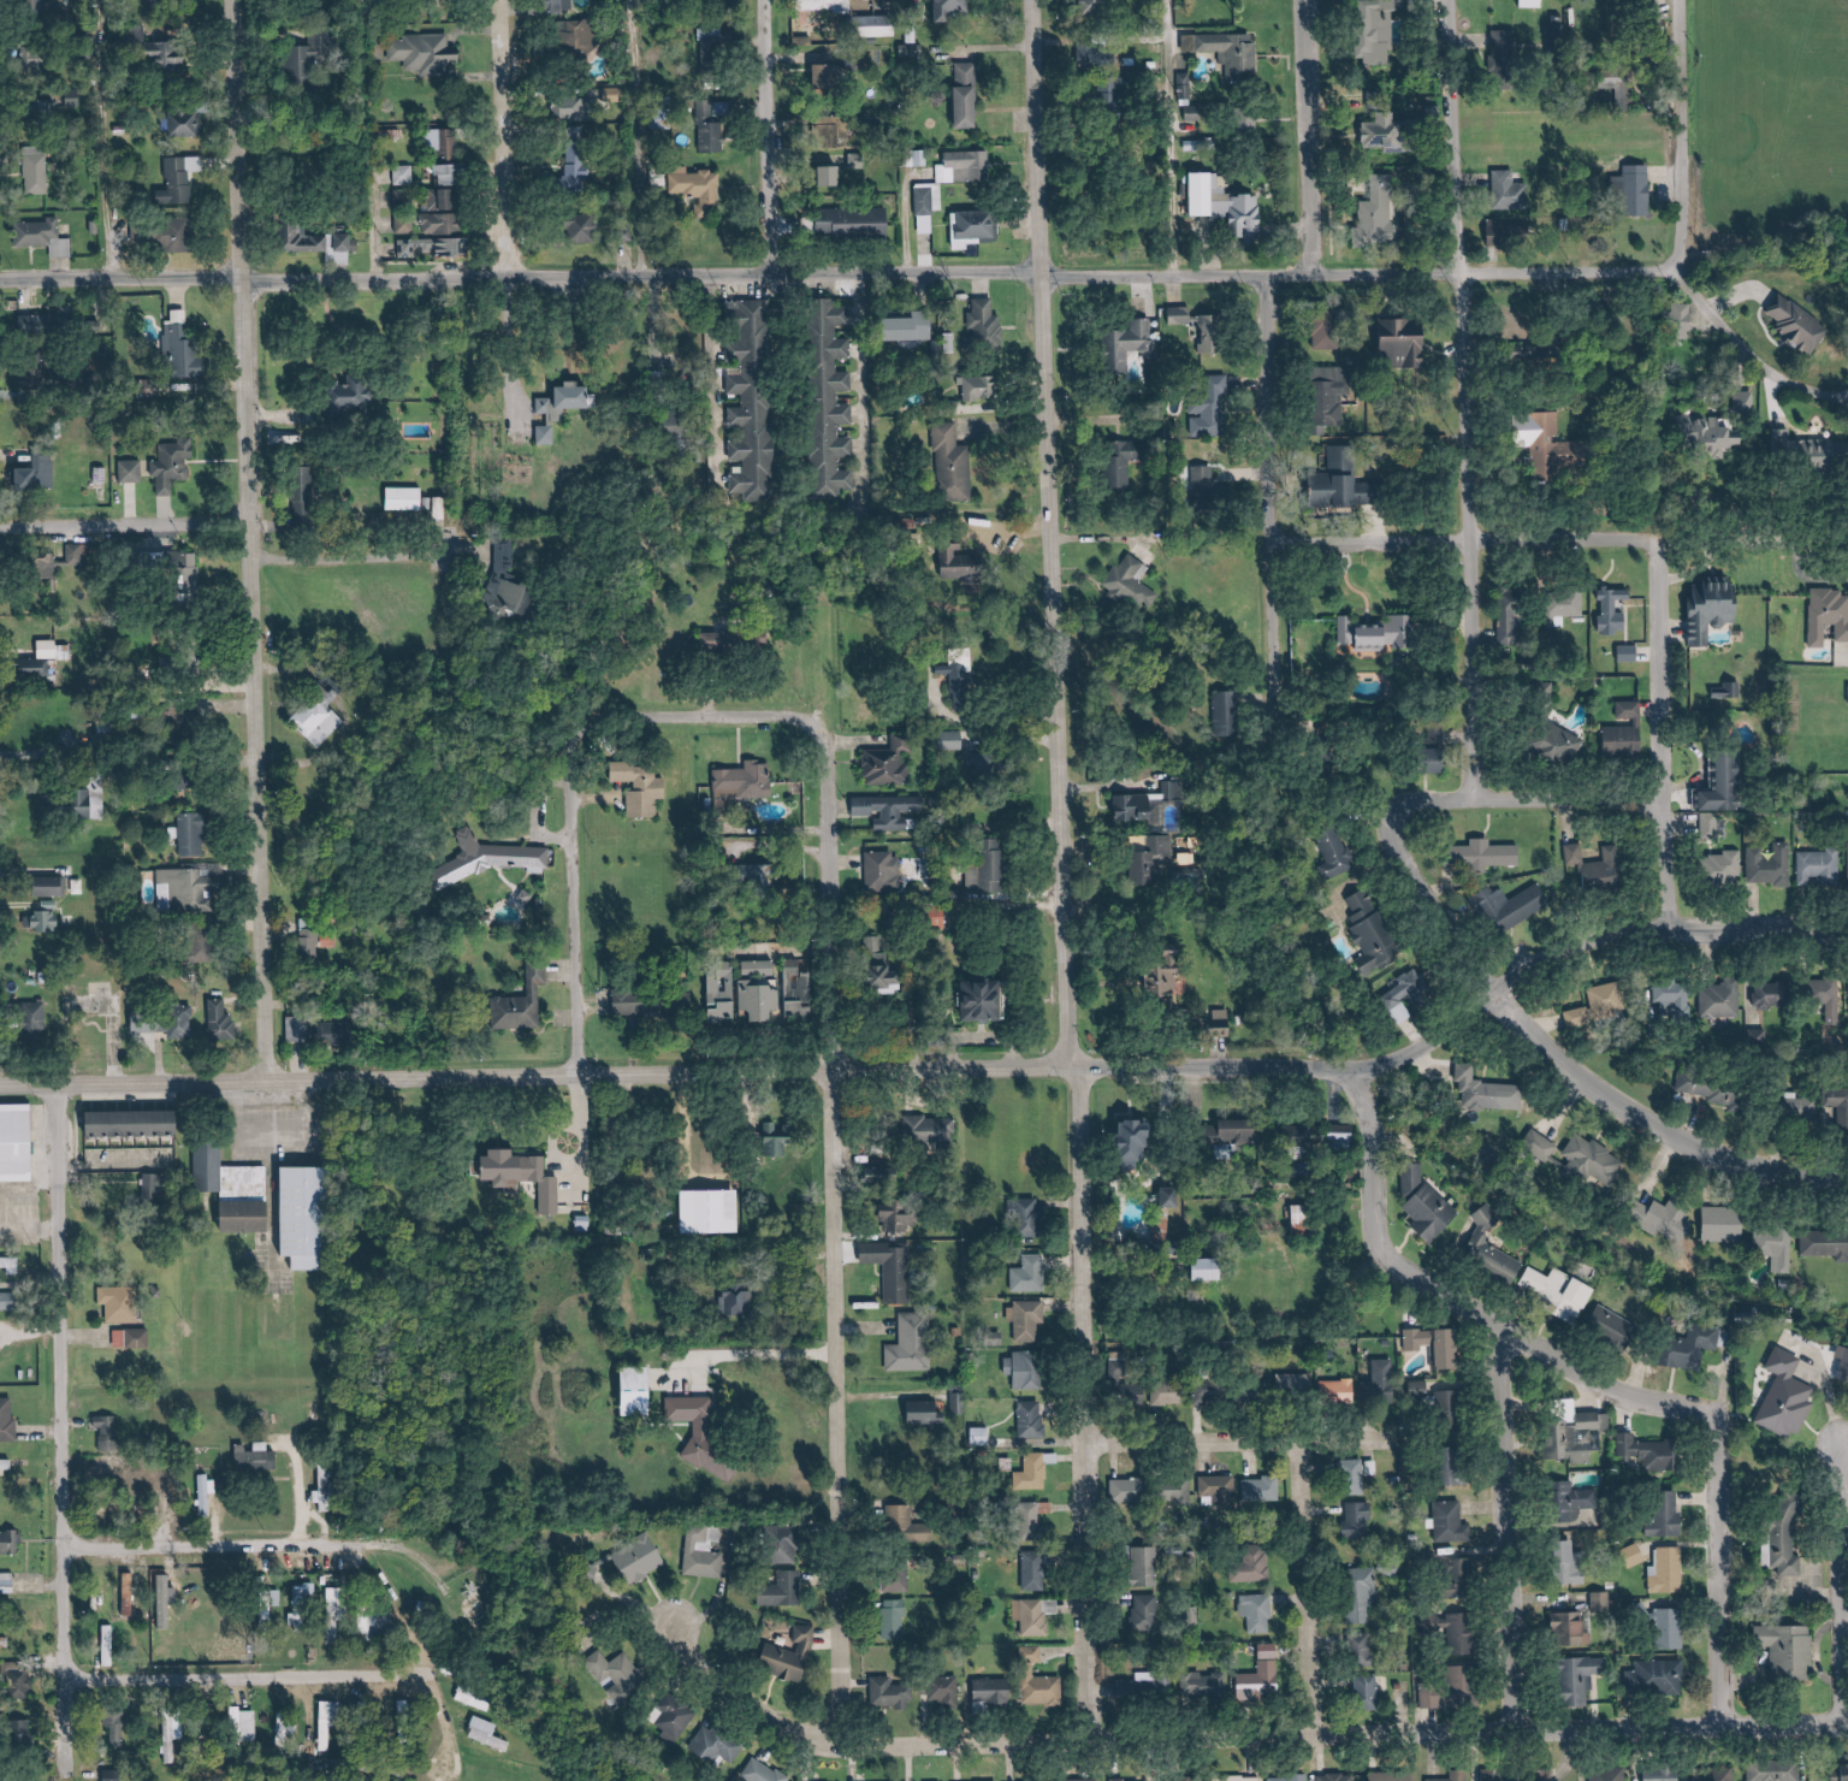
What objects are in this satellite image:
building: (164, 1)
building: (1528, 4)
building: (831, 5)
building: (42, 6)
building: (555, 6)
building: (1097, 7)
building: (962, 8)
road: (630, 20)
building: (807, 29)
building: (586, 37)
building: (1556, 39)
building: (713, 46)
building: (914, 49)
building: (1230, 51)
building: (1096, 52)
building: (427, 53)
building: (171, 55)
building: (35, 58)
building: (312, 58)
building: (1503, 60)
building: (833, 77)
building: (1186, 85)
building: (1616, 89)
building: (971, 95)
building: (76, 99)
building: (47, 110)
building: (663, 122)
building: (188, 124)
building: (835, 125)
building: (716, 126)
building: (1388, 132)
road: (768, 137)
road: (1307, 137)
road: (1453, 137)
road: (100, 138)
road: (500, 138)
road: (1675, 141)
building: (445, 143)
building: (858, 161)
building: (580, 166)
building: (967, 167)
building: (38, 170)
building: (456, 174)
building: (404, 176)
building: (836, 176)
building: (180, 181)
building: (700, 190)
building: (1508, 191)
road: (644, 194)
building: (403, 199)
building: (929, 206)
building: (1231, 207)
road: (367, 215)
building: (857, 223)
building: (405, 224)
building: (445, 224)
building: (977, 227)
building: (587, 229)
building: (164, 235)
building: (1505, 236)
building: (46, 237)
building: (303, 238)
building: (348, 242)
building: (434, 248)
road: (947, 272)
building: (1181, 315)
building: (1676, 320)
building: (48, 324)
building: (1796, 325)
building: (914, 327)
building: (988, 327)
building: (1212, 333)
building: (1557, 335)
building: (1132, 344)
building: (1400, 344)
building: (183, 347)
building: (40, 380)
road: (861, 381)
building: (982, 387)
building: (353, 395)
building: (753, 398)
building: (568, 402)
building: (1334, 402)
building: (834, 404)
building: (1208, 418)
building: (549, 436)
building: (1713, 436)
building: (1550, 449)
building: (1808, 452)
building: (1130, 461)
building: (955, 463)
building: (174, 465)
building: (42, 471)
building: (132, 471)
building: (1213, 490)
building: (408, 499)
road: (1273, 507)
building: (443, 508)
road: (123, 525)
road: (1474, 526)
road: (1042, 534)
road: (247, 539)
road: (1445, 540)
building: (79, 554)
building: (49, 561)
building: (964, 564)
building: (194, 573)
building: (511, 582)
building: (1135, 585)
building: (1560, 608)
building: (1710, 608)
building: (1612, 611)
building: (1510, 617)
building: (1826, 617)
building: (728, 643)
building: (54, 649)
road: (1666, 653)
building: (177, 662)
building: (37, 669)
building: (964, 685)
building: (1228, 714)
road: (645, 715)
building: (321, 722)
building: (107, 730)
building: (1624, 733)
building: (955, 740)
building: (1433, 746)
building: (1557, 747)
building: (892, 762)
building: (985, 763)
road: (1516, 777)
building: (1725, 783)
building: (745, 785)
building: (645, 788)
building: (1153, 801)
building: (73, 806)
building: (892, 810)
building: (1711, 829)
building: (194, 834)
building: (1479, 854)
road: (1674, 854)
building: (491, 858)
building: (1155, 860)
building: (1769, 865)
building: (1597, 866)
building: (1817, 868)
building: (1722, 870)
building: (990, 871)
building: (885, 872)
building: (763, 875)
building: (55, 887)
building: (192, 891)
building: (52, 906)
building: (1509, 909)
building: (46, 922)
building: (315, 937)
road: (563, 947)
building: (892, 975)
building: (801, 983)
building: (1172, 984)
building: (1772, 995)
building: (1406, 998)
building: (1670, 999)
building: (1719, 999)
building: (724, 1000)
building: (975, 1000)
building: (1825, 1000)
building: (526, 1001)
building: (645, 1005)
building: (1598, 1005)
road: (1464, 1018)
building: (221, 1020)
building: (1225, 1020)
building: (167, 1022)
building: (35, 1023)
building: (321, 1031)
road: (1577, 1064)
road: (532, 1072)
building: (1717, 1091)
building: (1486, 1094)
building: (1837, 1110)
building: (1799, 1112)
building: (124, 1123)
building: (930, 1130)
building: (1317, 1135)
building: (1237, 1136)
building: (778, 1138)
building: (1142, 1142)
building: (11, 1144)
building: (1538, 1148)
building: (1592, 1160)
road: (109, 1165)
building: (211, 1167)
building: (526, 1176)
building: (883, 1176)
building: (156, 1187)
building: (250, 1199)
building: (1175, 1199)
road: (824, 1207)
building: (1426, 1207)
building: (712, 1211)
building: (1029, 1214)
building: (1304, 1215)
building: (312, 1217)
building: (1668, 1218)
building: (585, 1224)
building: (1723, 1224)
building: (1824, 1244)
building: (1485, 1247)
building: (1775, 1247)
building: (12, 1264)
building: (893, 1267)
building: (1213, 1270)
building: (1031, 1274)
building: (1560, 1294)
building: (10, 1301)
building: (738, 1301)
building: (122, 1303)
road: (1467, 1303)
building: (1029, 1320)
building: (1612, 1330)
building: (134, 1338)
building: (913, 1344)
building: (1439, 1347)
building: (1695, 1348)
building: (1029, 1369)
building: (1292, 1381)
building: (644, 1391)
building: (1210, 1391)
building: (1168, 1392)
building: (1785, 1401)
building: (958, 1403)
road: (1073, 1404)
building: (1447, 1412)
building: (926, 1413)
building: (1033, 1419)
building: (2, 1425)
building: (109, 1427)
road: (35, 1432)
road: (63, 1432)
building: (703, 1433)
building: (984, 1436)
building: (1571, 1436)
road: (1238, 1444)
building: (1627, 1448)
building: (1664, 1455)
building: (259, 1457)
building: (7, 1465)
building: (1449, 1467)
building: (1037, 1471)
building: (1130, 1489)
building: (1220, 1490)
building: (1262, 1490)
building: (1180, 1492)
building: (209, 1493)
building: (327, 1499)
building: (1572, 1503)
building: (1663, 1515)
building: (1362, 1519)
building: (911, 1525)
building: (1449, 1525)
road: (1517, 1529)
building: (1784, 1536)
road: (283, 1540)
building: (11, 1543)
building: (704, 1552)
building: (1631, 1556)
building: (642, 1557)
building: (1570, 1564)
building: (1148, 1566)
building: (1251, 1568)
building: (1037, 1570)
building: (1666, 1573)
building: (1458, 1580)
road: (1726, 1580)
building: (10, 1582)
road: (1847, 1584)
building: (787, 1590)
road: (1299, 1590)
building: (132, 1594)
building: (166, 1602)
building: (339, 1603)
building: (1600, 1603)
building: (303, 1605)
building: (1148, 1611)
building: (1260, 1613)
building: (1035, 1616)
building: (896, 1619)
building: (1570, 1631)
building: (1666, 1631)
building: (1461, 1634)
building: (5, 1641)
building: (112, 1646)
building: (1787, 1652)
building: (1035, 1653)
building: (793, 1656)
building: (617, 1670)
road: (304, 1675)
building: (20, 1679)
building: (1578, 1680)
building: (1655, 1680)
building: (1262, 1681)
building: (1203, 1684)
building: (1464, 1687)
building: (1145, 1688)
building: (947, 1690)
building: (1046, 1690)
building: (996, 1691)
building: (894, 1693)
building: (1431, 1696)
building: (475, 1700)
road: (739, 1708)
building: (679, 1718)
building: (332, 1722)
building: (247, 1724)
building: (288, 1729)
building: (119, 1730)
building: (490, 1734)
road: (1313, 1734)
building: (172, 1739)
building: (718, 1745)
building: (764, 1771)
building: (1779, 1773)
building: (1840, 1773)
building: (1541, 1774)
building: (1607, 1774)
building: (117, 1775)
building: (1457, 1775)
building: (1500, 1775)
building: (1663, 1775)
building: (1714, 1776)
building: (1338, 1777)
building: (1390, 1777)
building: (1239, 1779)
building: (1290, 1779)
building: (1080, 1780)
building: (1143, 1780)

